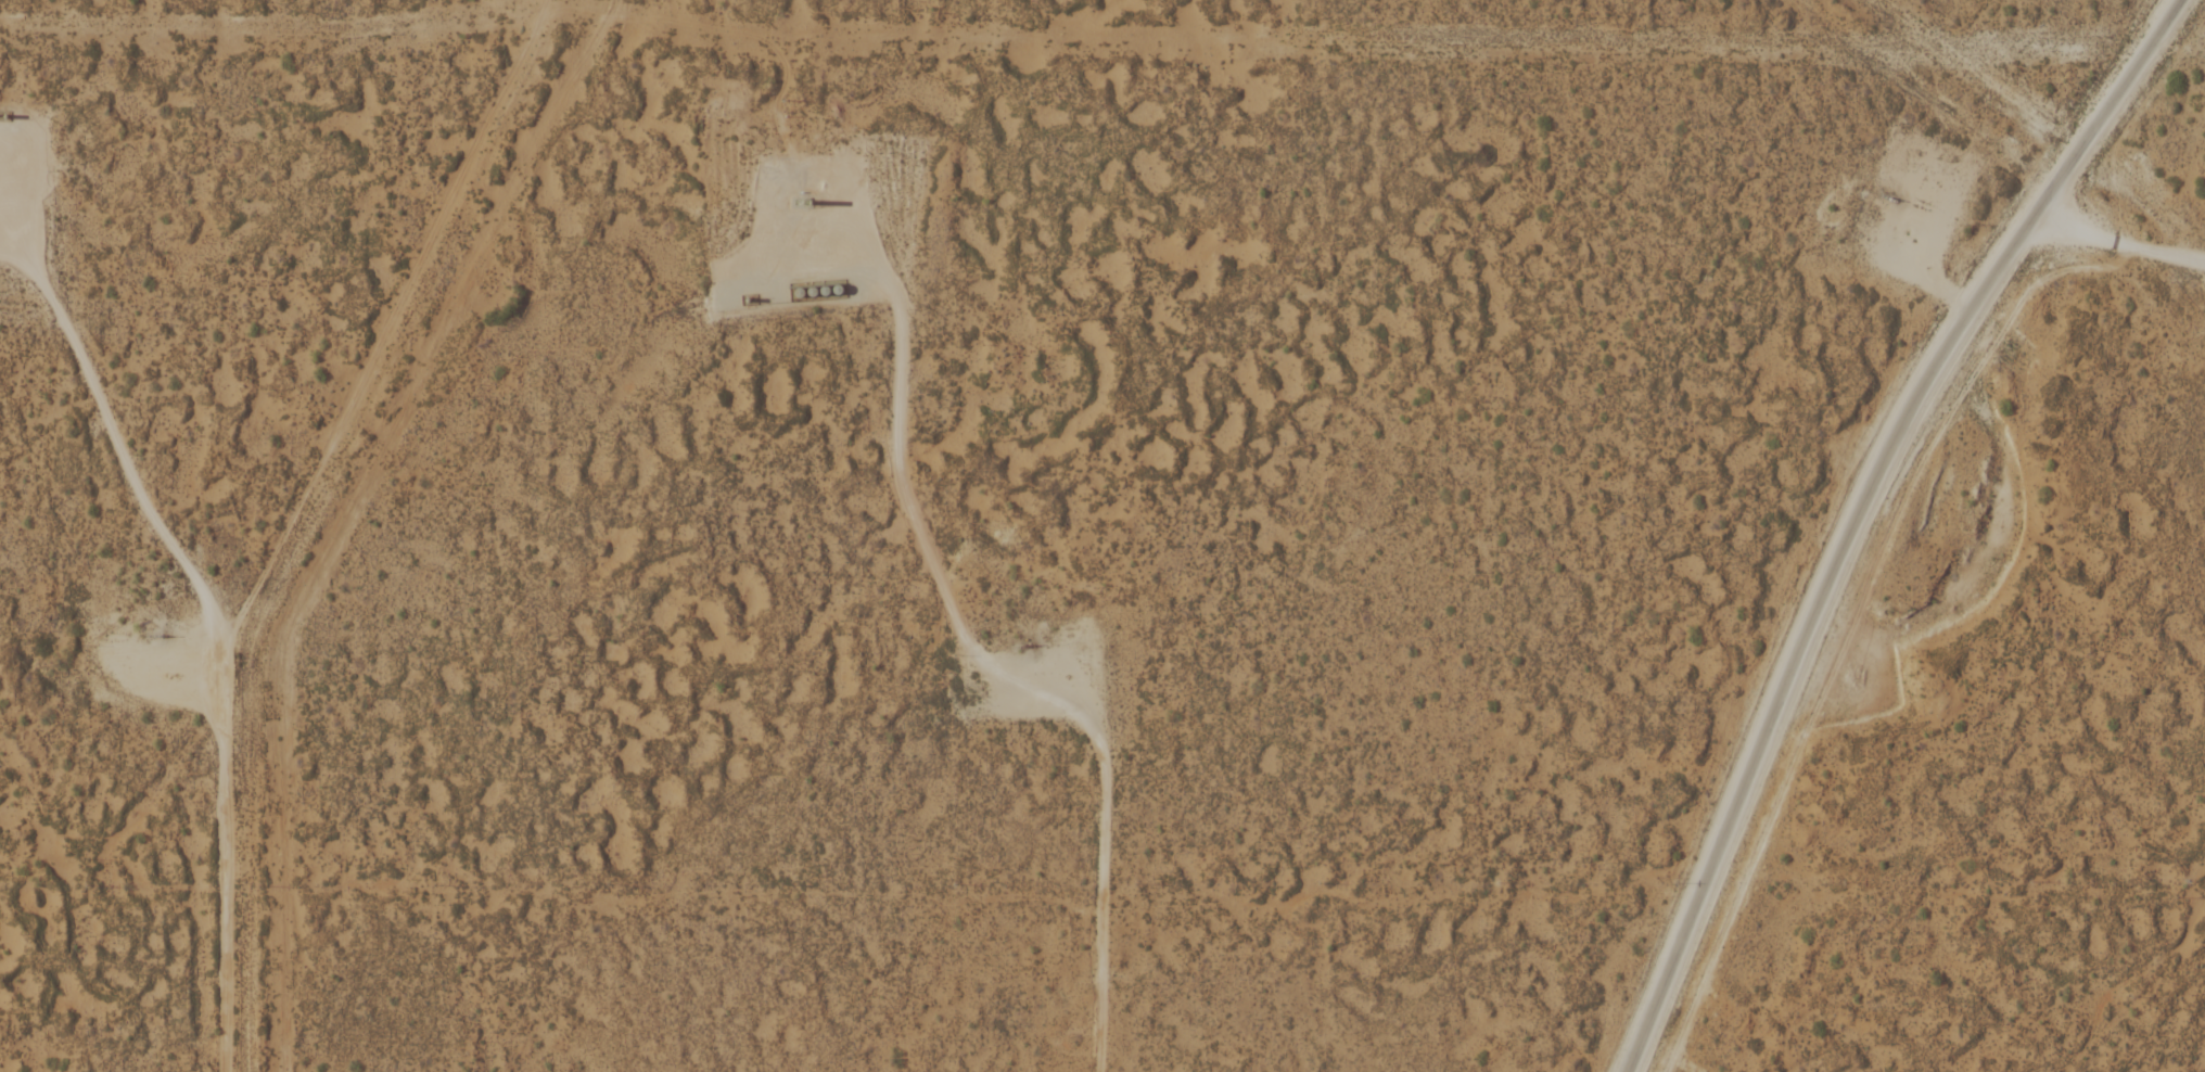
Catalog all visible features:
road: (11, 150)
road: (2121, 248)
road: (1900, 264)
road: (120, 450)
road: (900, 469)
road: (1873, 513)
road: (1106, 868)
road: (226, 905)

